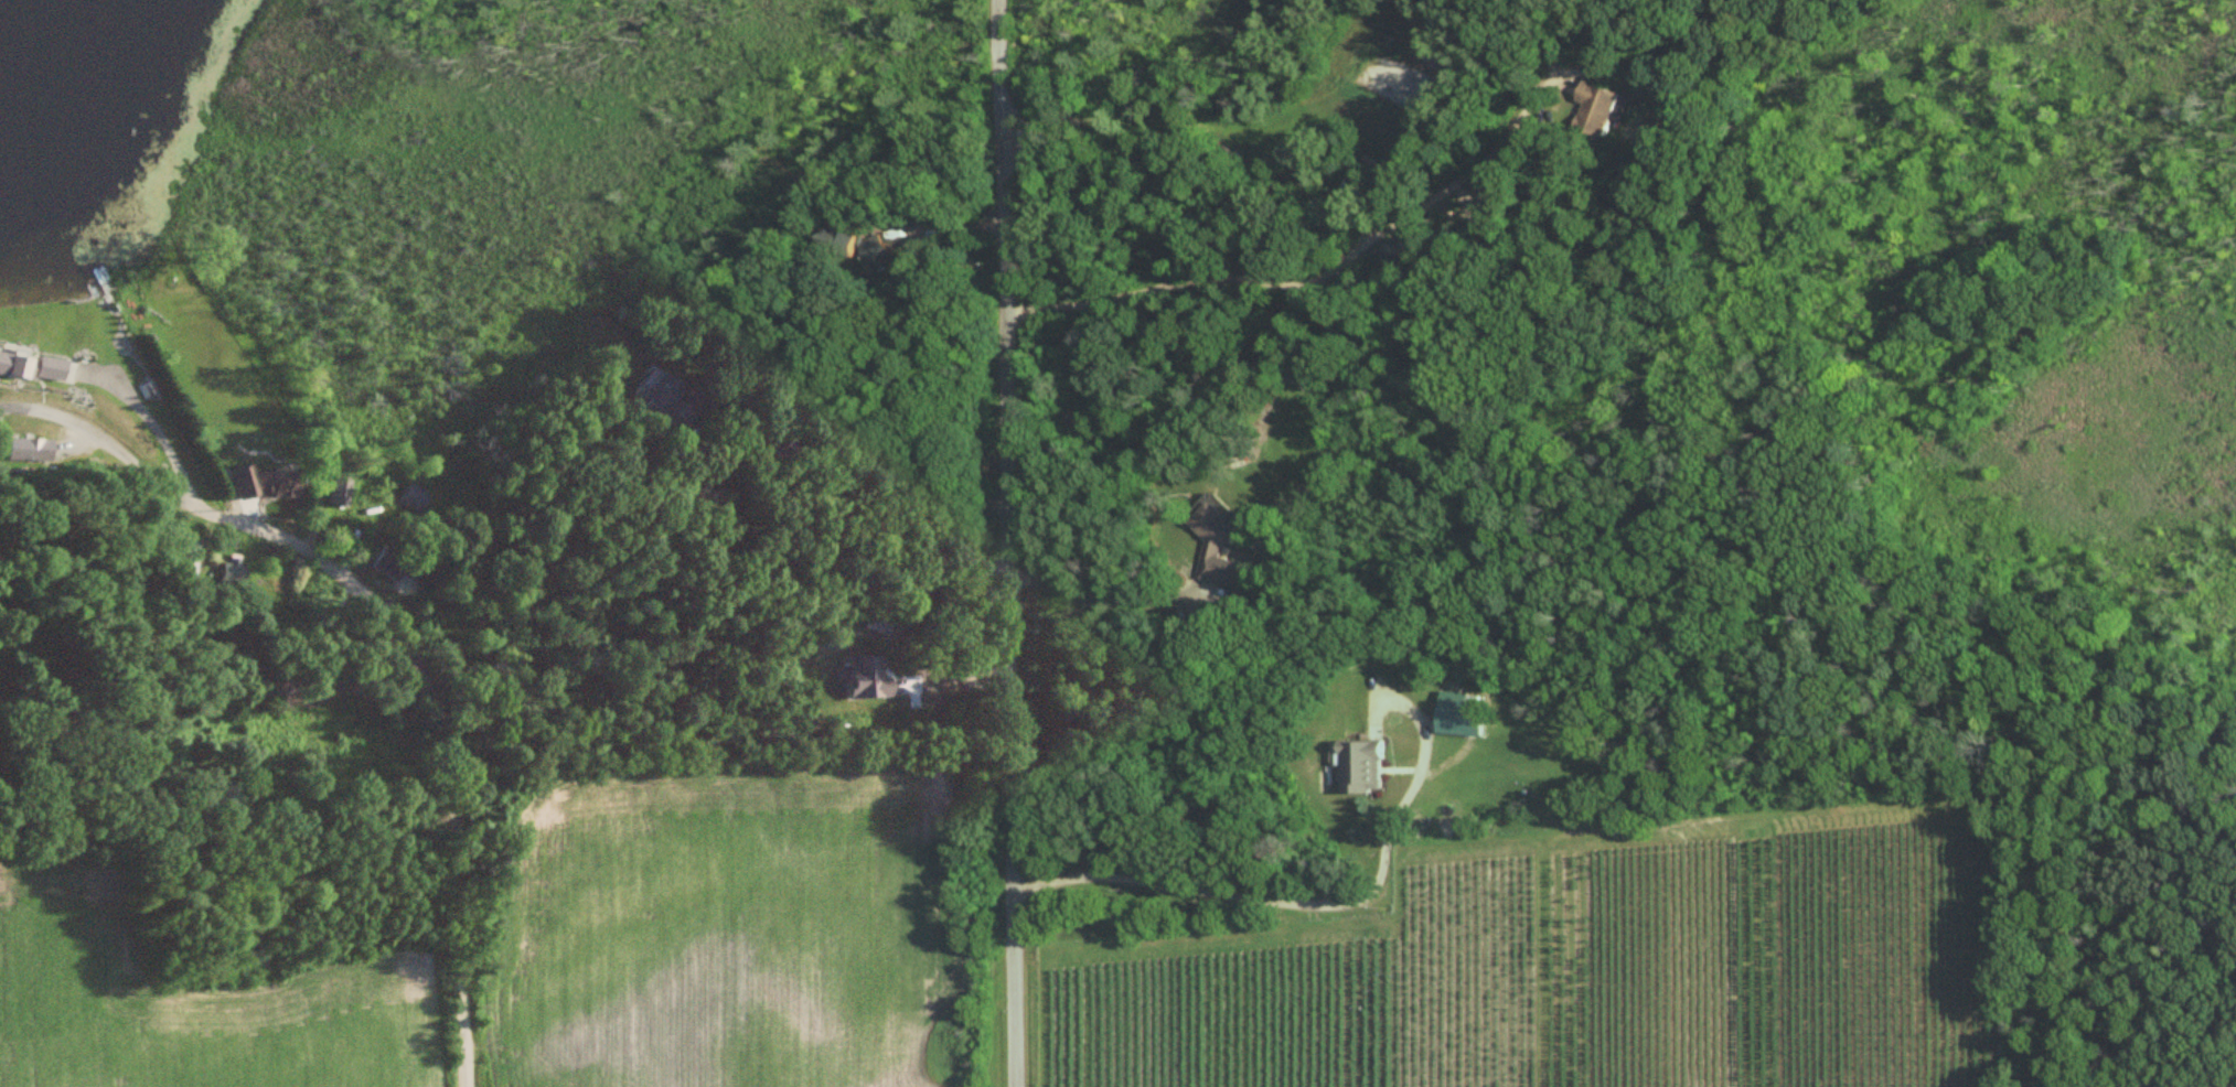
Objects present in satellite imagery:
building: (1595, 110)
road: (942, 227)
building: (835, 239)
building: (873, 248)
road: (1314, 281)
building: (32, 367)
building: (654, 402)
road: (152, 424)
building: (28, 450)
road: (864, 494)
building: (410, 499)
road: (1006, 542)
building: (1217, 542)
building: (184, 561)
building: (399, 567)
building: (232, 572)
road: (1094, 599)
road: (399, 629)
building: (864, 678)
road: (949, 678)
building: (1361, 767)
road: (1308, 902)

